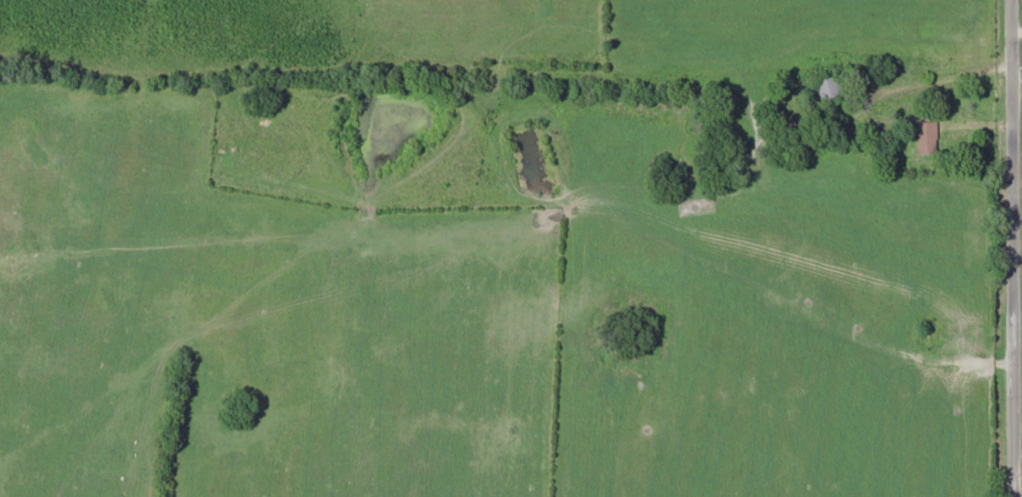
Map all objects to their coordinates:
building: (831, 86)
building: (929, 137)

